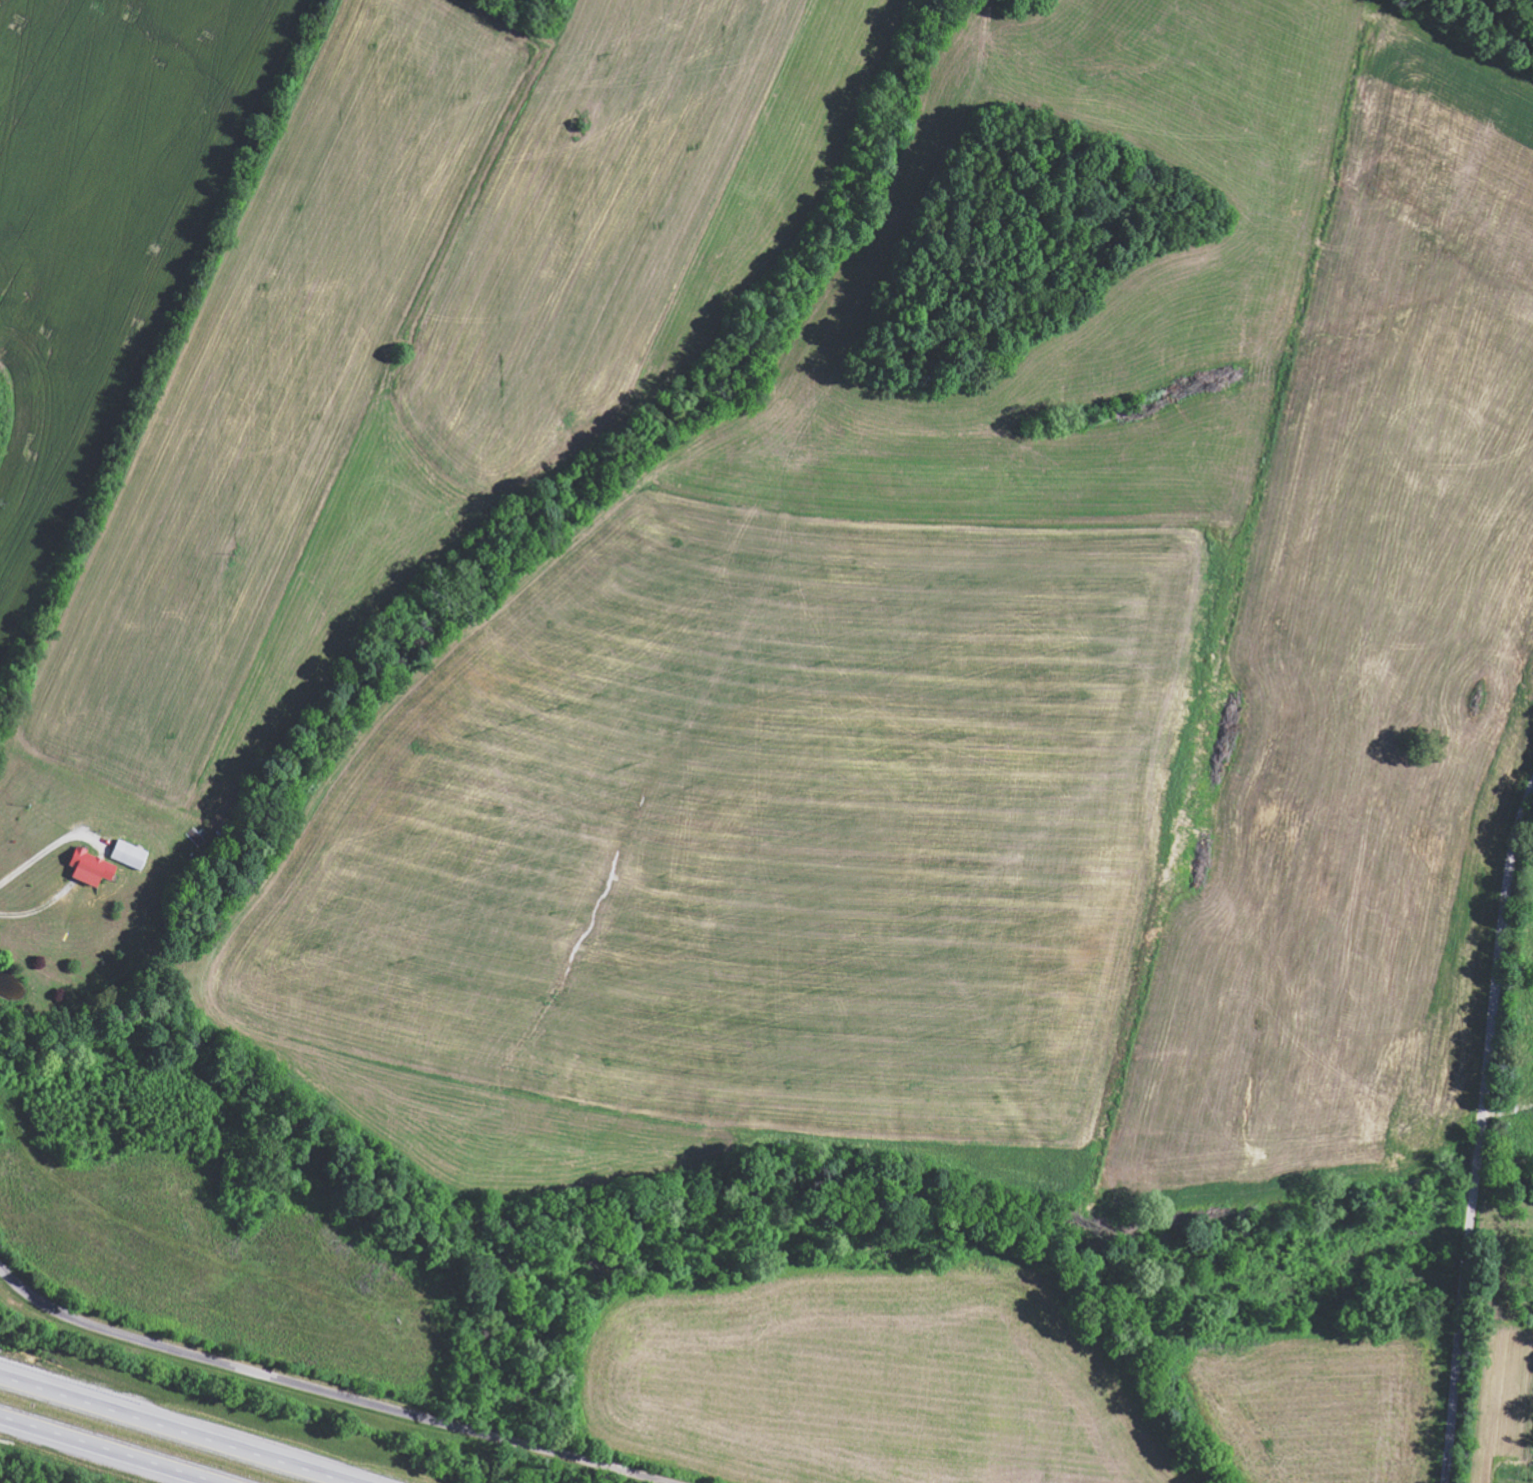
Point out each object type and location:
building: (130, 854)
building: (93, 867)
road: (1476, 1133)
road: (324, 1391)
road: (179, 1428)
road: (113, 1448)

